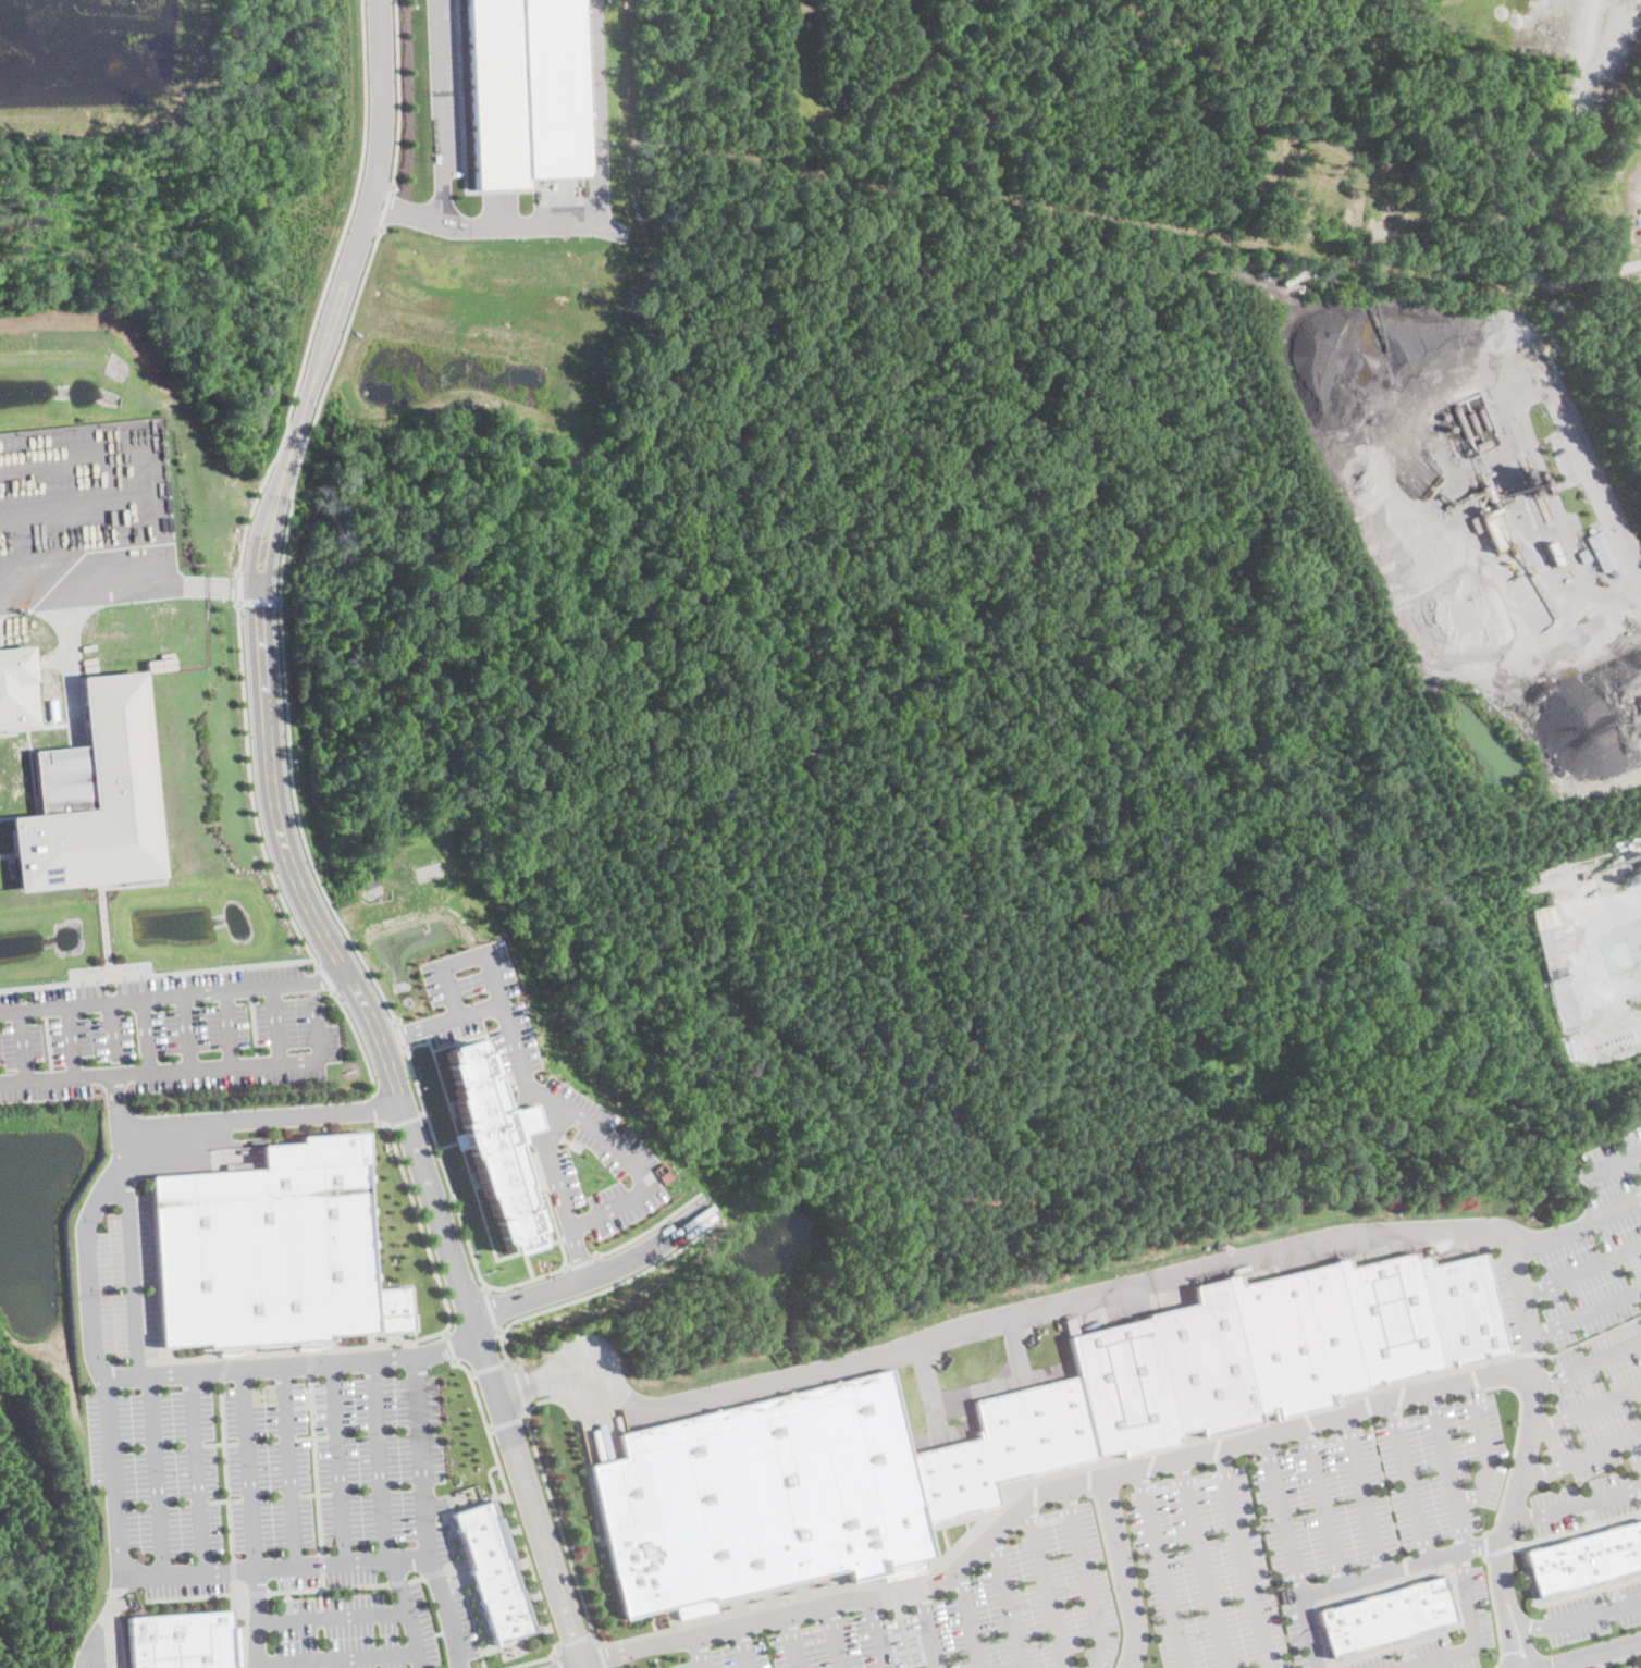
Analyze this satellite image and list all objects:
building: (518, 90)
road: (398, 94)
road: (441, 112)
quarry: (1555, 168)
road: (383, 208)
road: (592, 220)
road: (1527, 274)
road: (322, 291)
building: (1531, 477)
building: (1491, 528)
building: (1553, 552)
building: (1602, 552)
building: (1583, 556)
building: (1613, 571)
road: (128, 589)
road: (238, 589)
road: (258, 601)
road: (280, 628)
building: (18, 688)
road: (250, 791)
building: (96, 795)
road: (285, 852)
building: (1546, 899)
road: (325, 979)
road: (172, 993)
road: (275, 1023)
road: (416, 1026)
road: (227, 1027)
road: (111, 1028)
road: (186, 1030)
road: (146, 1034)
road: (399, 1034)
road: (70, 1040)
road: (357, 1040)
road: (23, 1045)
road: (519, 1067)
road: (188, 1068)
road: (379, 1107)
road: (407, 1117)
road: (262, 1119)
road: (522, 1120)
building: (490, 1148)
road: (1609, 1161)
road: (553, 1165)
road: (650, 1227)
road: (423, 1235)
road: (465, 1236)
building: (269, 1246)
road: (579, 1252)
road: (581, 1259)
road: (1584, 1267)
road: (597, 1273)
road: (85, 1276)
road: (608, 1287)
road: (1065, 1301)
road: (490, 1308)
road: (1588, 1310)
building: (1070, 1325)
road: (445, 1334)
road: (451, 1347)
road: (505, 1355)
road: (491, 1368)
road: (159, 1372)
road: (472, 1374)
road: (520, 1388)
road: (1587, 1407)
road: (1533, 1414)
road: (508, 1423)
building: (1013, 1425)
road: (491, 1429)
road: (1484, 1449)
road: (1636, 1449)
road: (1582, 1455)
road: (378, 1460)
road: (314, 1462)
road: (336, 1462)
road: (286, 1466)
road: (246, 1468)
road: (1446, 1469)
road: (224, 1470)
road: (193, 1471)
road: (156, 1473)
road: (110, 1475)
road: (1089, 1479)
road: (1408, 1479)
road: (1362, 1492)
road: (552, 1498)
road: (1323, 1503)
road: (1575, 1505)
road: (1283, 1513)
road: (424, 1515)
road: (519, 1525)
road: (1246, 1556)
building: (1588, 1557)
road: (1204, 1561)
road: (321, 1562)
road: (1402, 1565)
road: (273, 1566)
road: (453, 1567)
road: (1162, 1567)
road: (231, 1569)
road: (434, 1571)
road: (1126, 1571)
building: (496, 1572)
road: (416, 1578)
road: (1087, 1578)
road: (322, 1580)
road: (398, 1582)
road: (328, 1586)
road: (1048, 1586)
road: (467, 1590)
road: (256, 1592)
road: (320, 1597)
road: (1008, 1603)
road: (1595, 1611)
road: (407, 1613)
road: (331, 1616)
building: (1390, 1617)
road: (255, 1618)
road: (968, 1618)
road: (101, 1620)
road: (1535, 1620)
road: (927, 1629)
road: (1311, 1630)
road: (1509, 1631)
road: (1525, 1631)
road: (878, 1632)
road: (595, 1634)
road: (836, 1635)
road: (1473, 1635)
building: (176, 1641)
road: (793, 1641)
road: (577, 1642)
road: (743, 1646)
road: (704, 1651)
road: (557, 1655)
road: (1597, 1655)
road: (605, 1656)
road: (335, 1657)
road: (562, 1663)
road: (1586, 1664)
road: (705, 1667)

